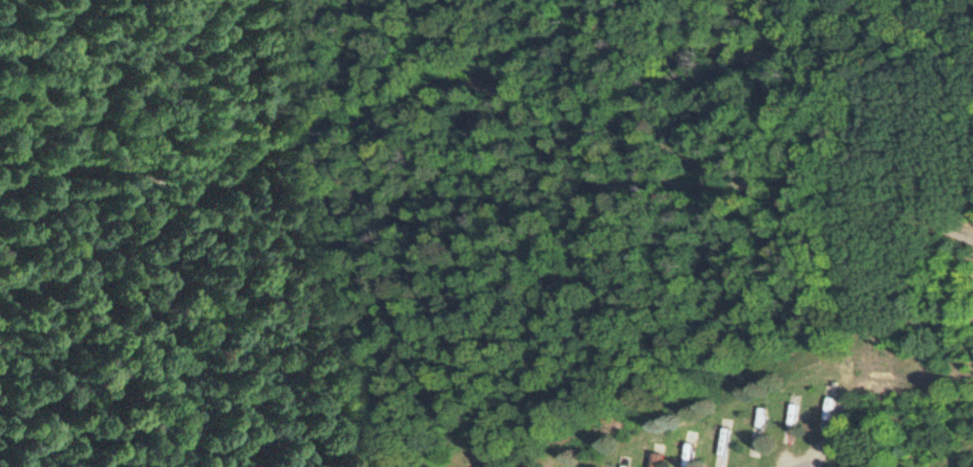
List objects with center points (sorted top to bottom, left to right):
building: (727, 443)
building: (692, 450)
building: (659, 459)
road: (801, 463)

